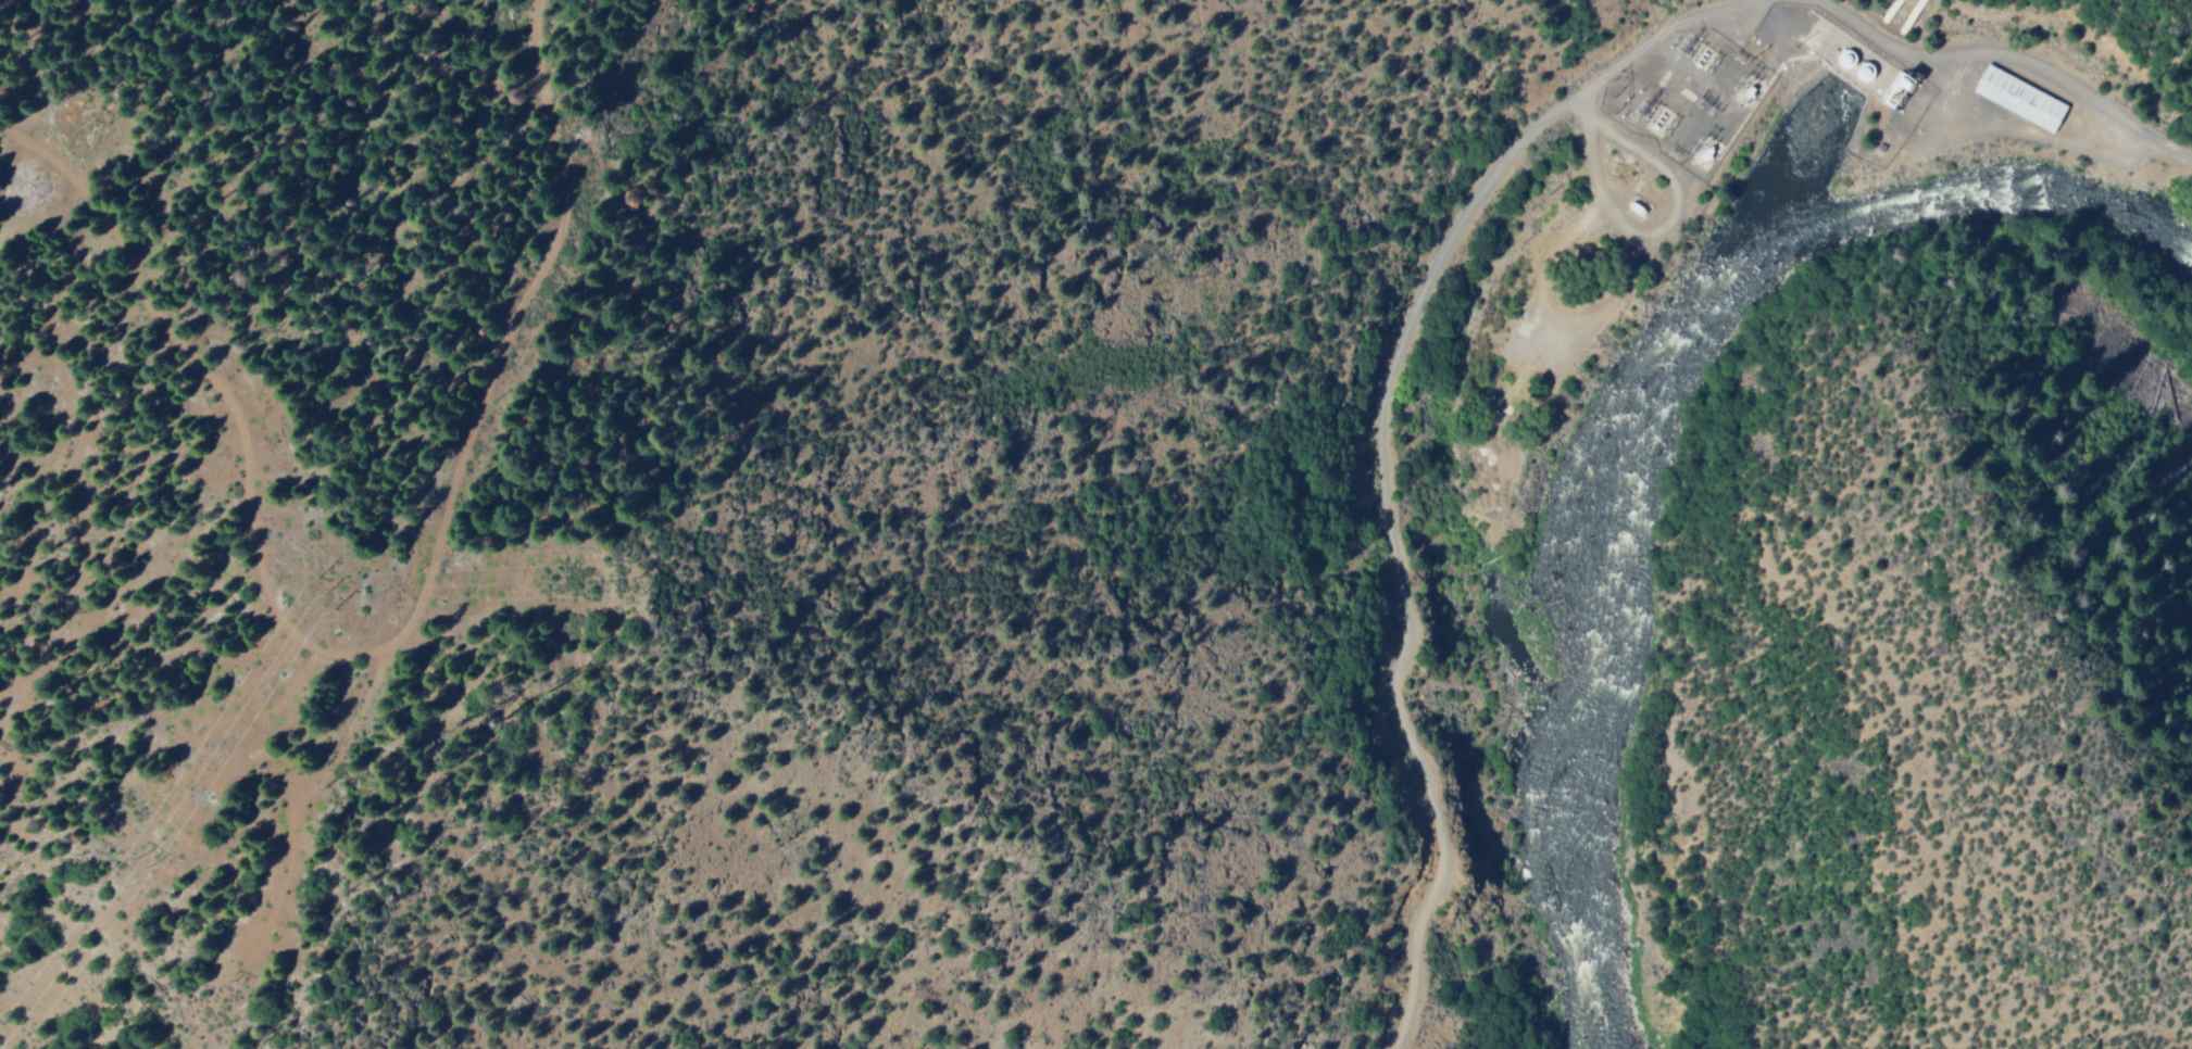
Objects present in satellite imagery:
road: (2012, 55)
building: (1849, 60)
power substation: (1689, 94)
building: (2015, 97)
power tower: (1629, 99)
river: (1644, 403)
power tower: (917, 437)
road: (1381, 452)
power tower: (638, 573)
power tower: (327, 591)
power tower: (148, 857)

